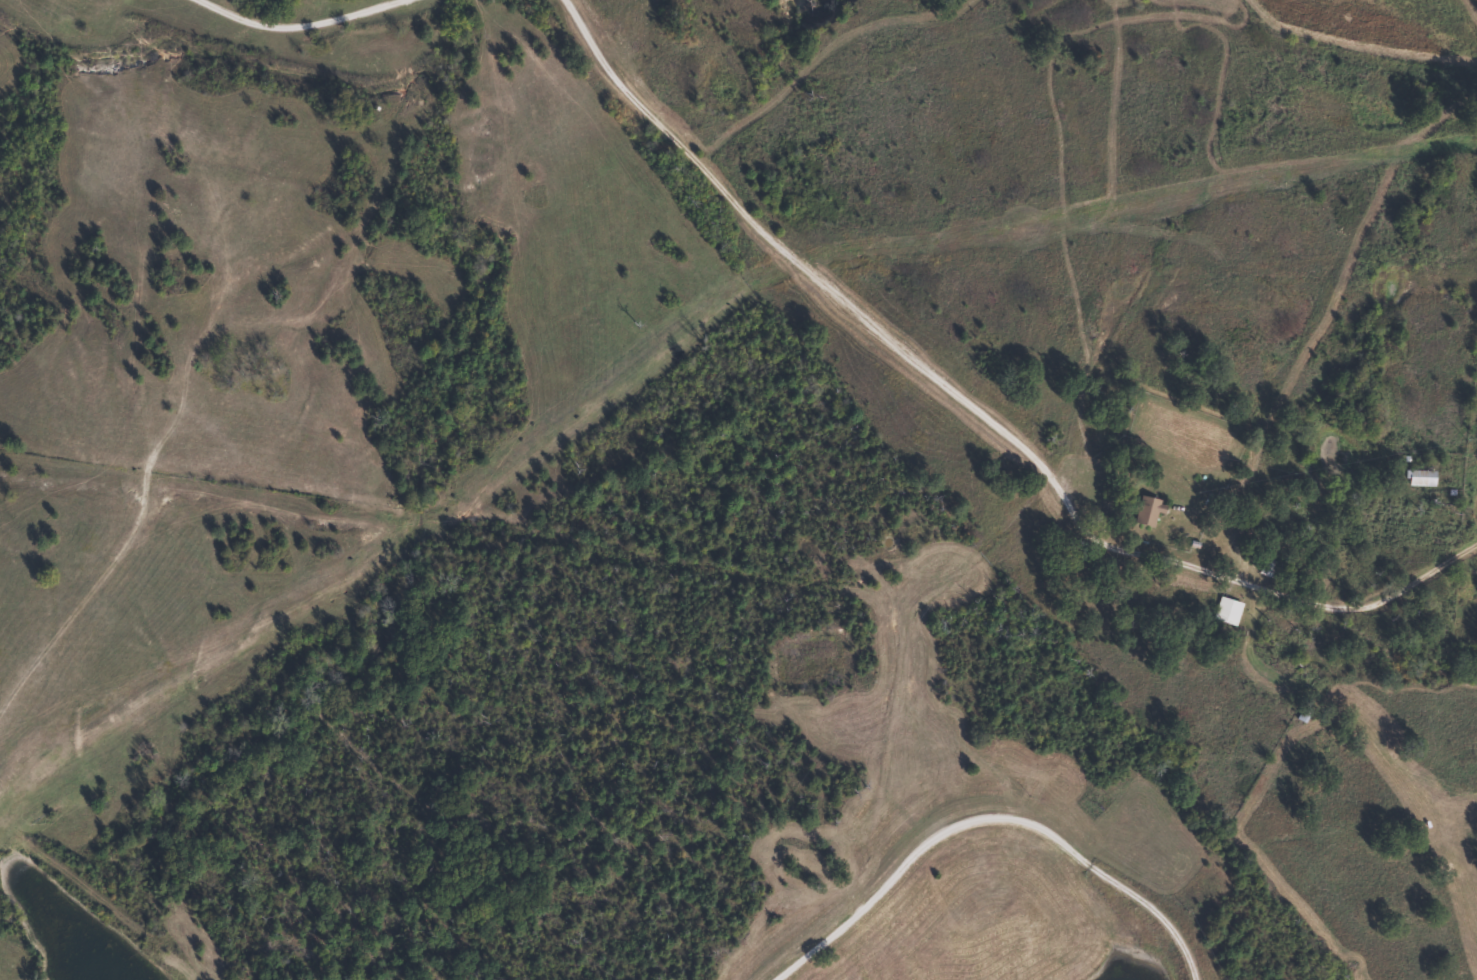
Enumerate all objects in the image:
building: (1417, 478)
building: (1144, 511)
building: (1267, 568)
building: (1224, 611)
road: (1000, 838)

